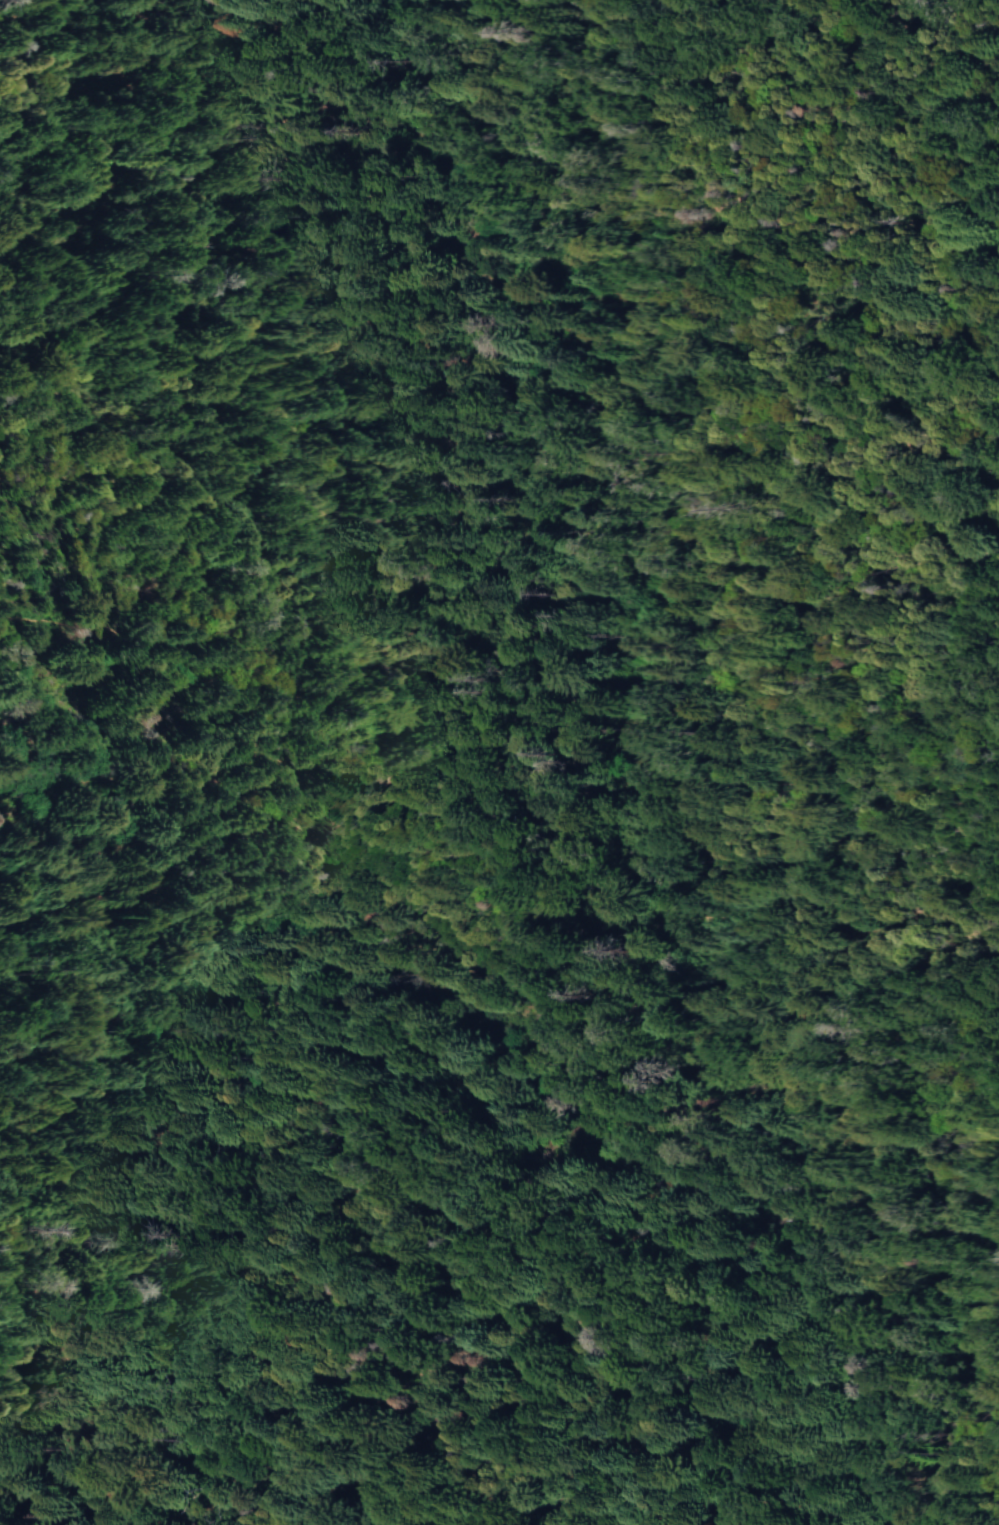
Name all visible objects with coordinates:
road: (383, 35)
road: (407, 70)
road: (824, 374)
road: (257, 485)
road: (533, 492)
road: (356, 580)
road: (634, 892)
road: (346, 943)
road: (686, 1042)
road: (235, 1185)
road: (729, 1188)
road: (801, 1348)

